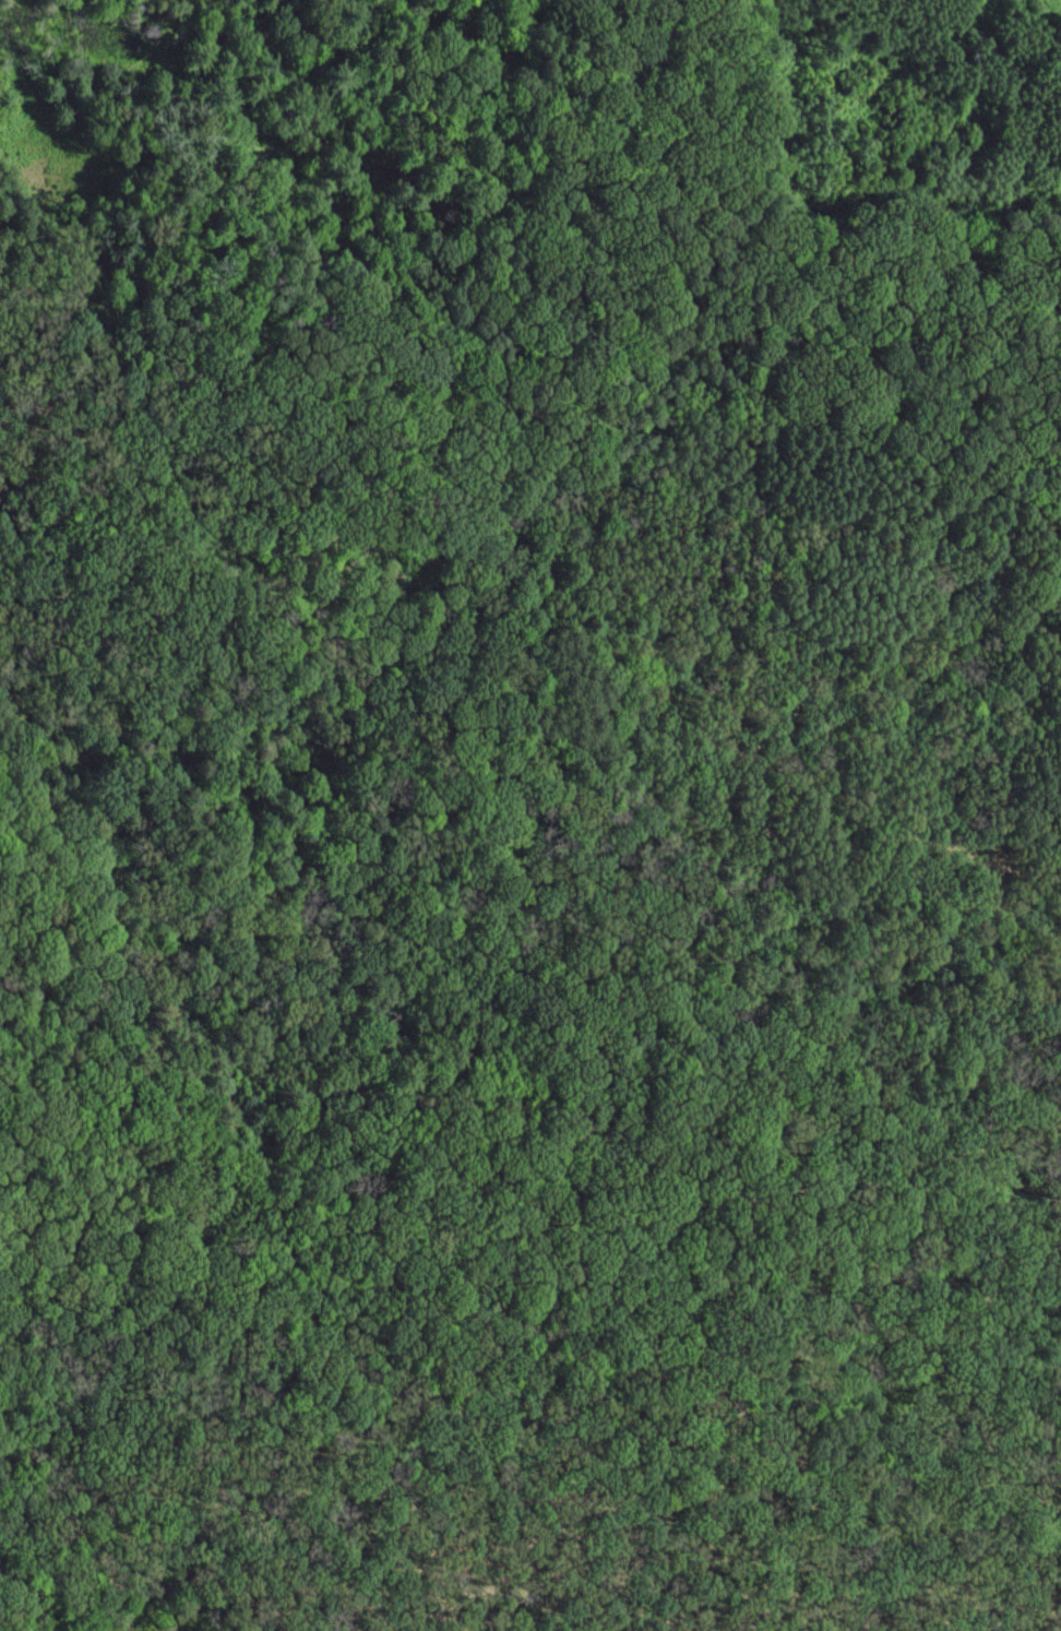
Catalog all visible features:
road: (383, 210)
road: (809, 218)

